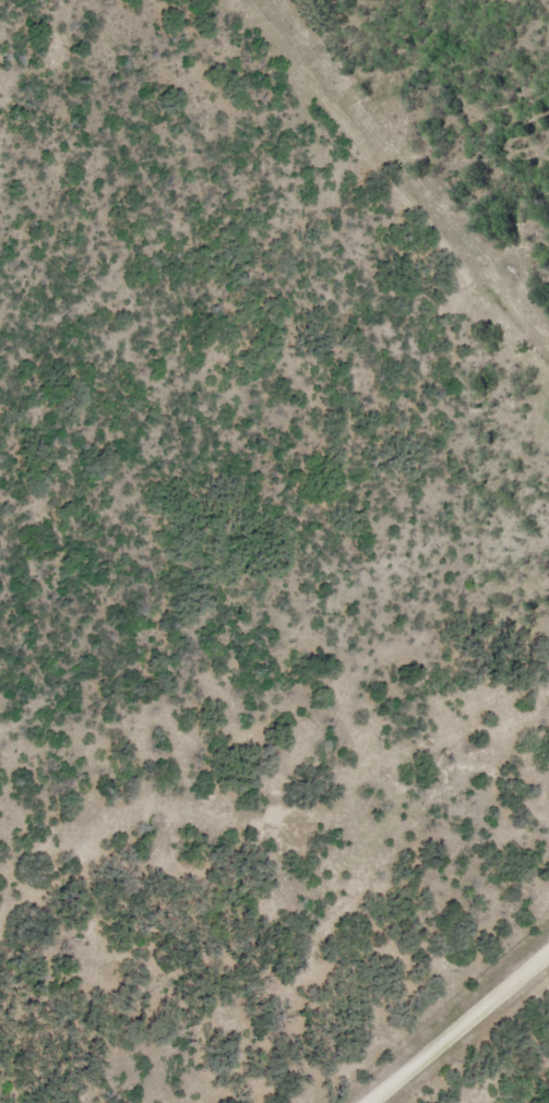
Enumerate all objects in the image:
road: (461, 1027)

